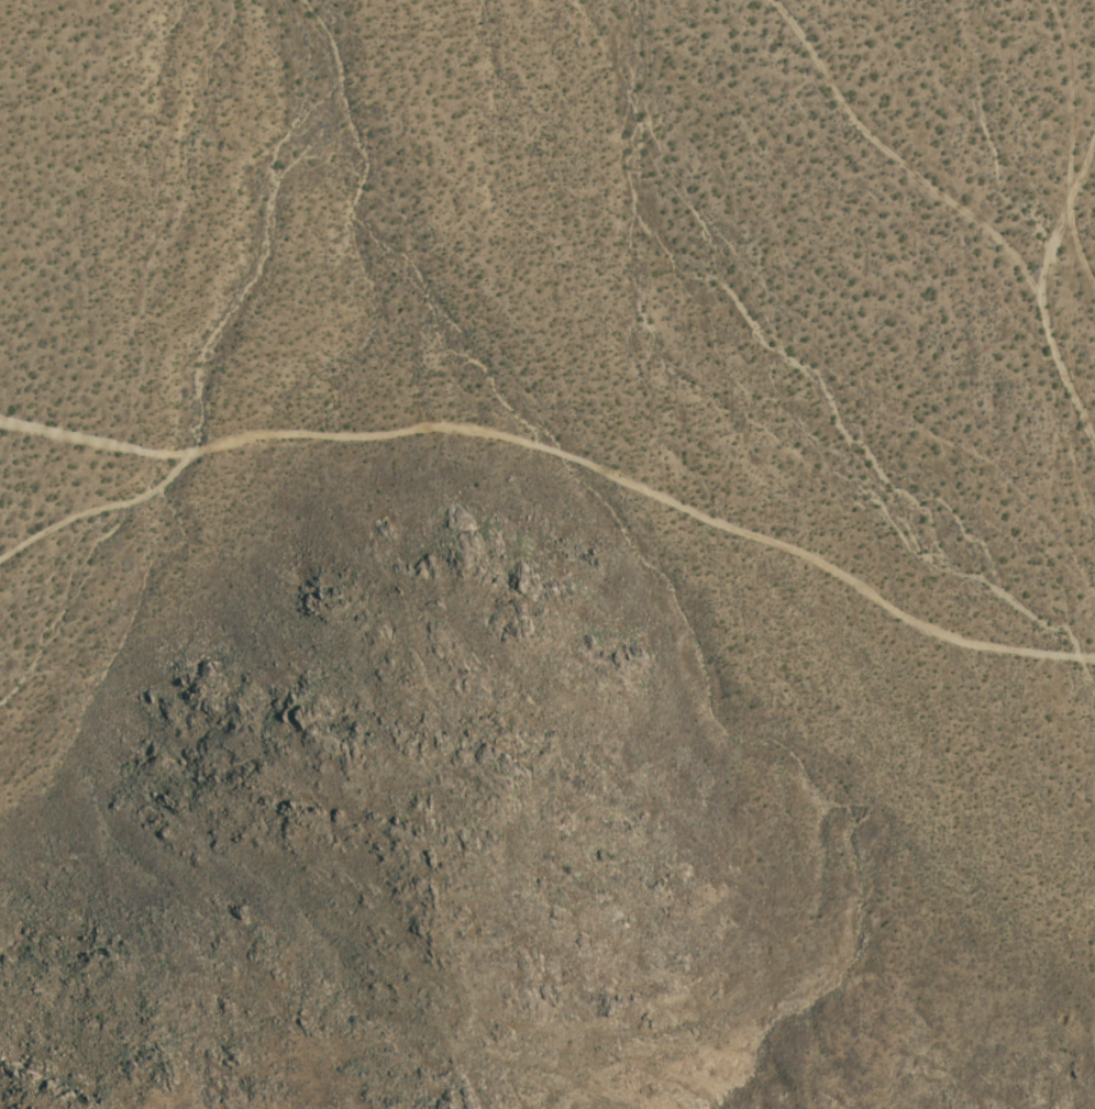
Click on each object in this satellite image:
road: (1074, 224)
road: (564, 442)

